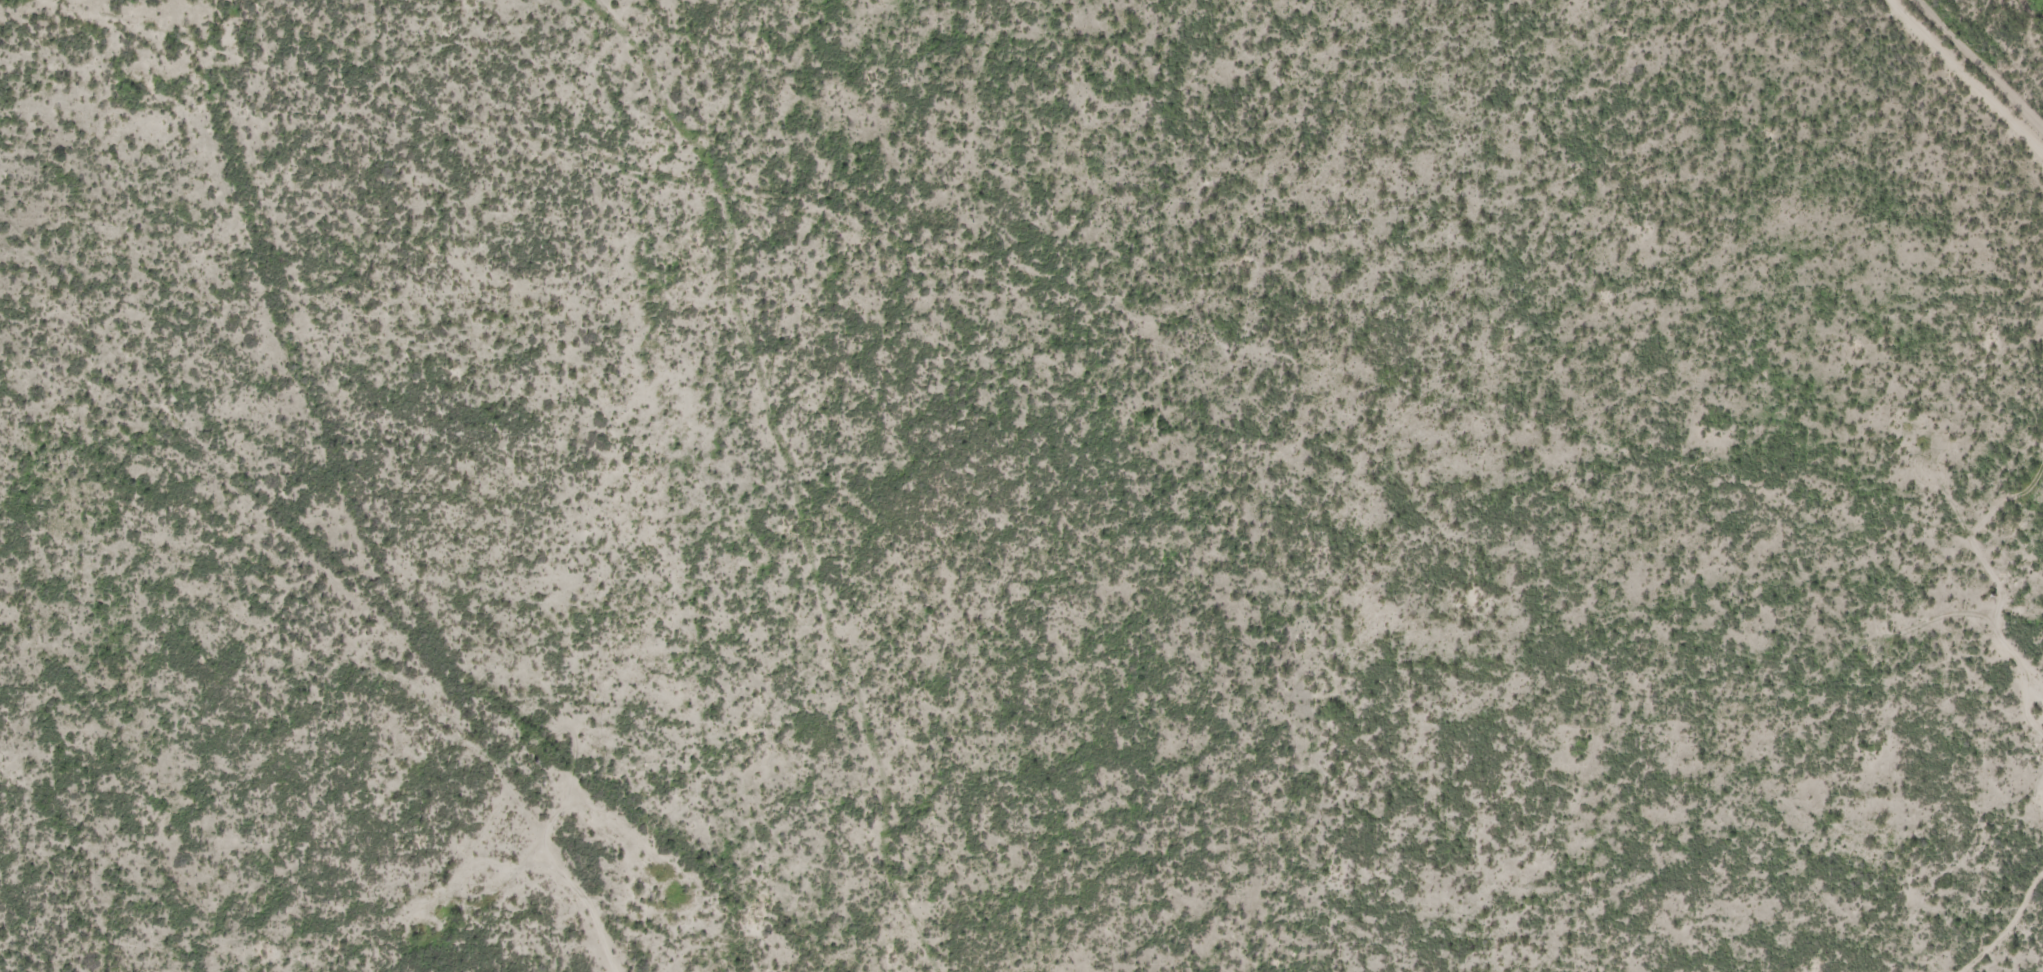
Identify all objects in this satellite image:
airport: (2006, 37)
road: (1360, 454)
road: (797, 475)

